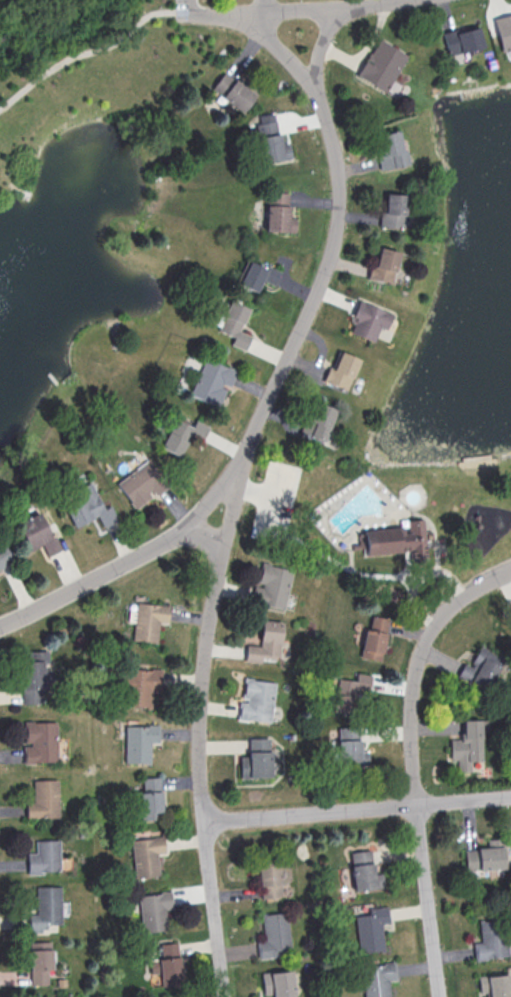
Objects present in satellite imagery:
road: (260, 6)
road: (190, 7)
road: (301, 9)
parking lot: (185, 10)
building: (503, 30)
building: (461, 39)
road: (320, 45)
road: (92, 51)
road: (285, 54)
building: (380, 64)
building: (231, 90)
park: (86, 106)
building: (270, 141)
building: (388, 150)
road: (28, 190)
building: (392, 210)
building: (278, 213)
building: (382, 264)
building: (256, 275)
building: (367, 319)
building: (235, 324)
building: (340, 370)
building: (212, 381)
building: (320, 420)
building: (184, 434)
building: (142, 483)
road: (258, 490)
parking lot: (276, 498)
building: (89, 507)
park: (383, 517)
building: (37, 534)
road: (204, 535)
road: (224, 537)
building: (392, 539)
building: (4, 554)
road: (130, 559)
road: (344, 565)
road: (415, 574)
building: (272, 586)
building: (148, 621)
building: (373, 638)
building: (266, 643)
building: (484, 667)
building: (34, 674)
building: (139, 686)
building: (350, 691)
building: (257, 700)
building: (39, 741)
building: (139, 742)
building: (347, 744)
building: (467, 744)
building: (256, 759)
road: (411, 762)
building: (150, 798)
building: (42, 799)
road: (356, 809)
building: (146, 855)
building: (44, 856)
building: (485, 858)
building: (364, 871)
building: (270, 877)
building: (45, 908)
building: (154, 910)
building: (372, 929)
building: (274, 934)
building: (490, 941)
building: (39, 961)
building: (167, 964)
building: (378, 979)
building: (279, 983)
building: (495, 985)

